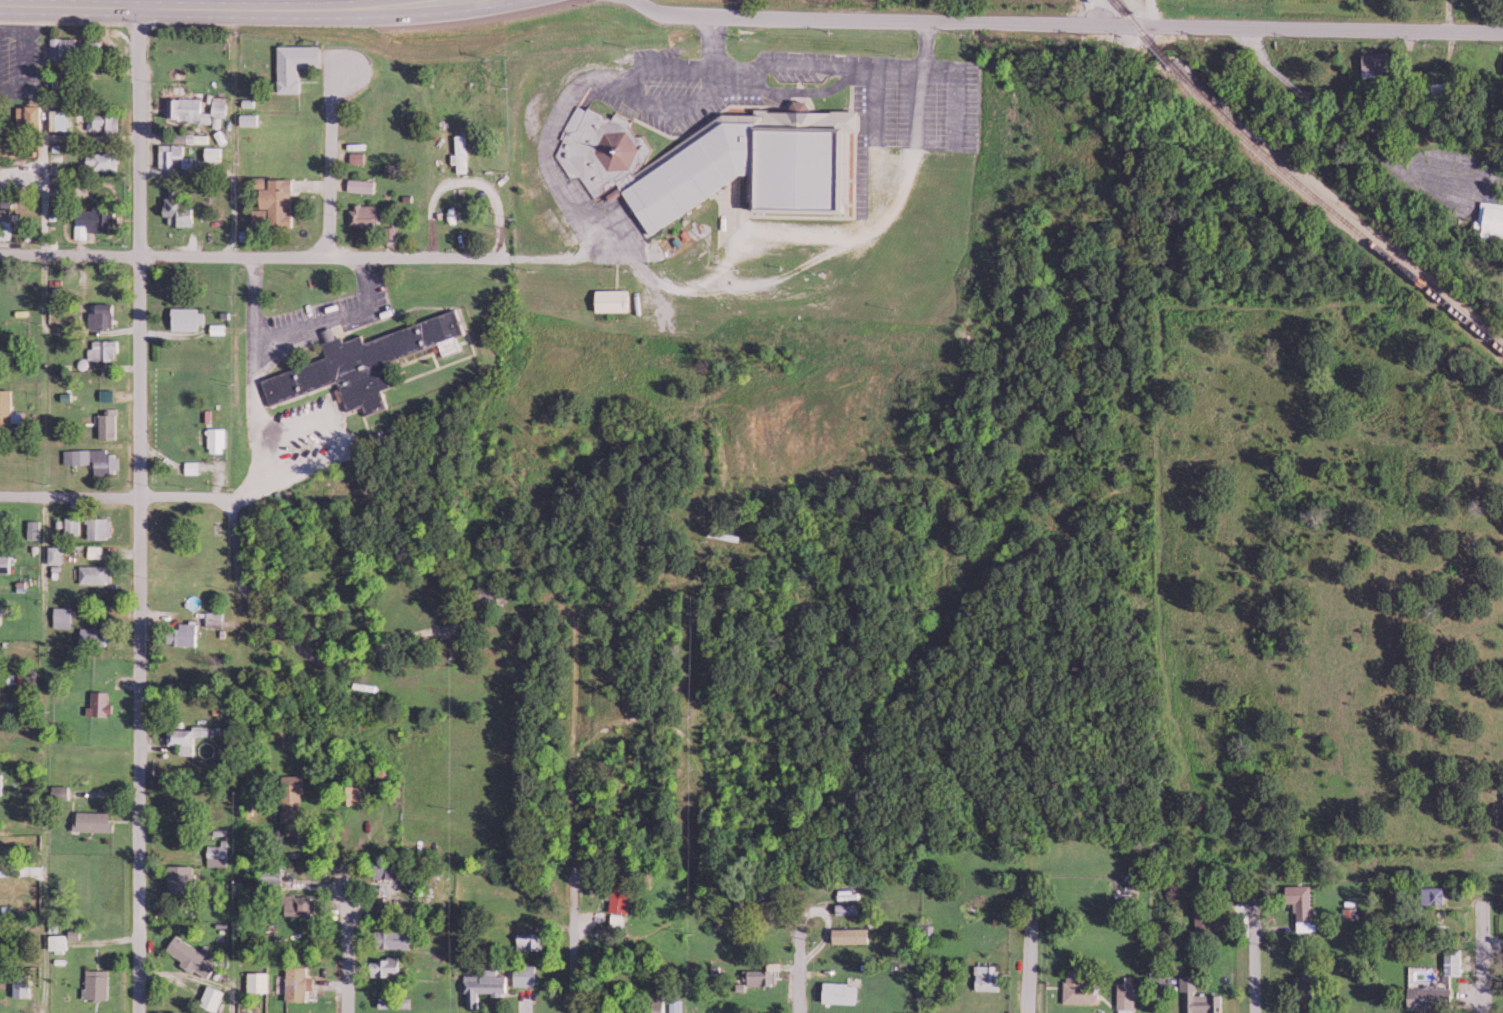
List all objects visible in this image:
road: (335, 5)
road: (148, 8)
road: (645, 8)
road: (415, 12)
road: (1151, 13)
road: (1080, 25)
building: (1377, 64)
road: (479, 159)
road: (327, 160)
railway: (1298, 185)
road: (39, 204)
building: (1491, 221)
road: (252, 259)
road: (244, 379)
road: (70, 497)
road: (140, 510)
road: (667, 557)
road: (238, 559)
road: (457, 636)
road: (623, 652)
road: (693, 659)
road: (573, 813)
building: (1435, 894)
road: (329, 898)
building: (1302, 905)
building: (847, 907)
building: (1205, 914)
building: (852, 934)
road: (1030, 949)
building: (1454, 960)
road: (799, 967)
road: (1256, 969)
road: (1474, 974)
building: (989, 976)
building: (1080, 987)
building: (843, 992)
building: (1127, 995)
building: (1197, 997)
building: (1430, 997)

